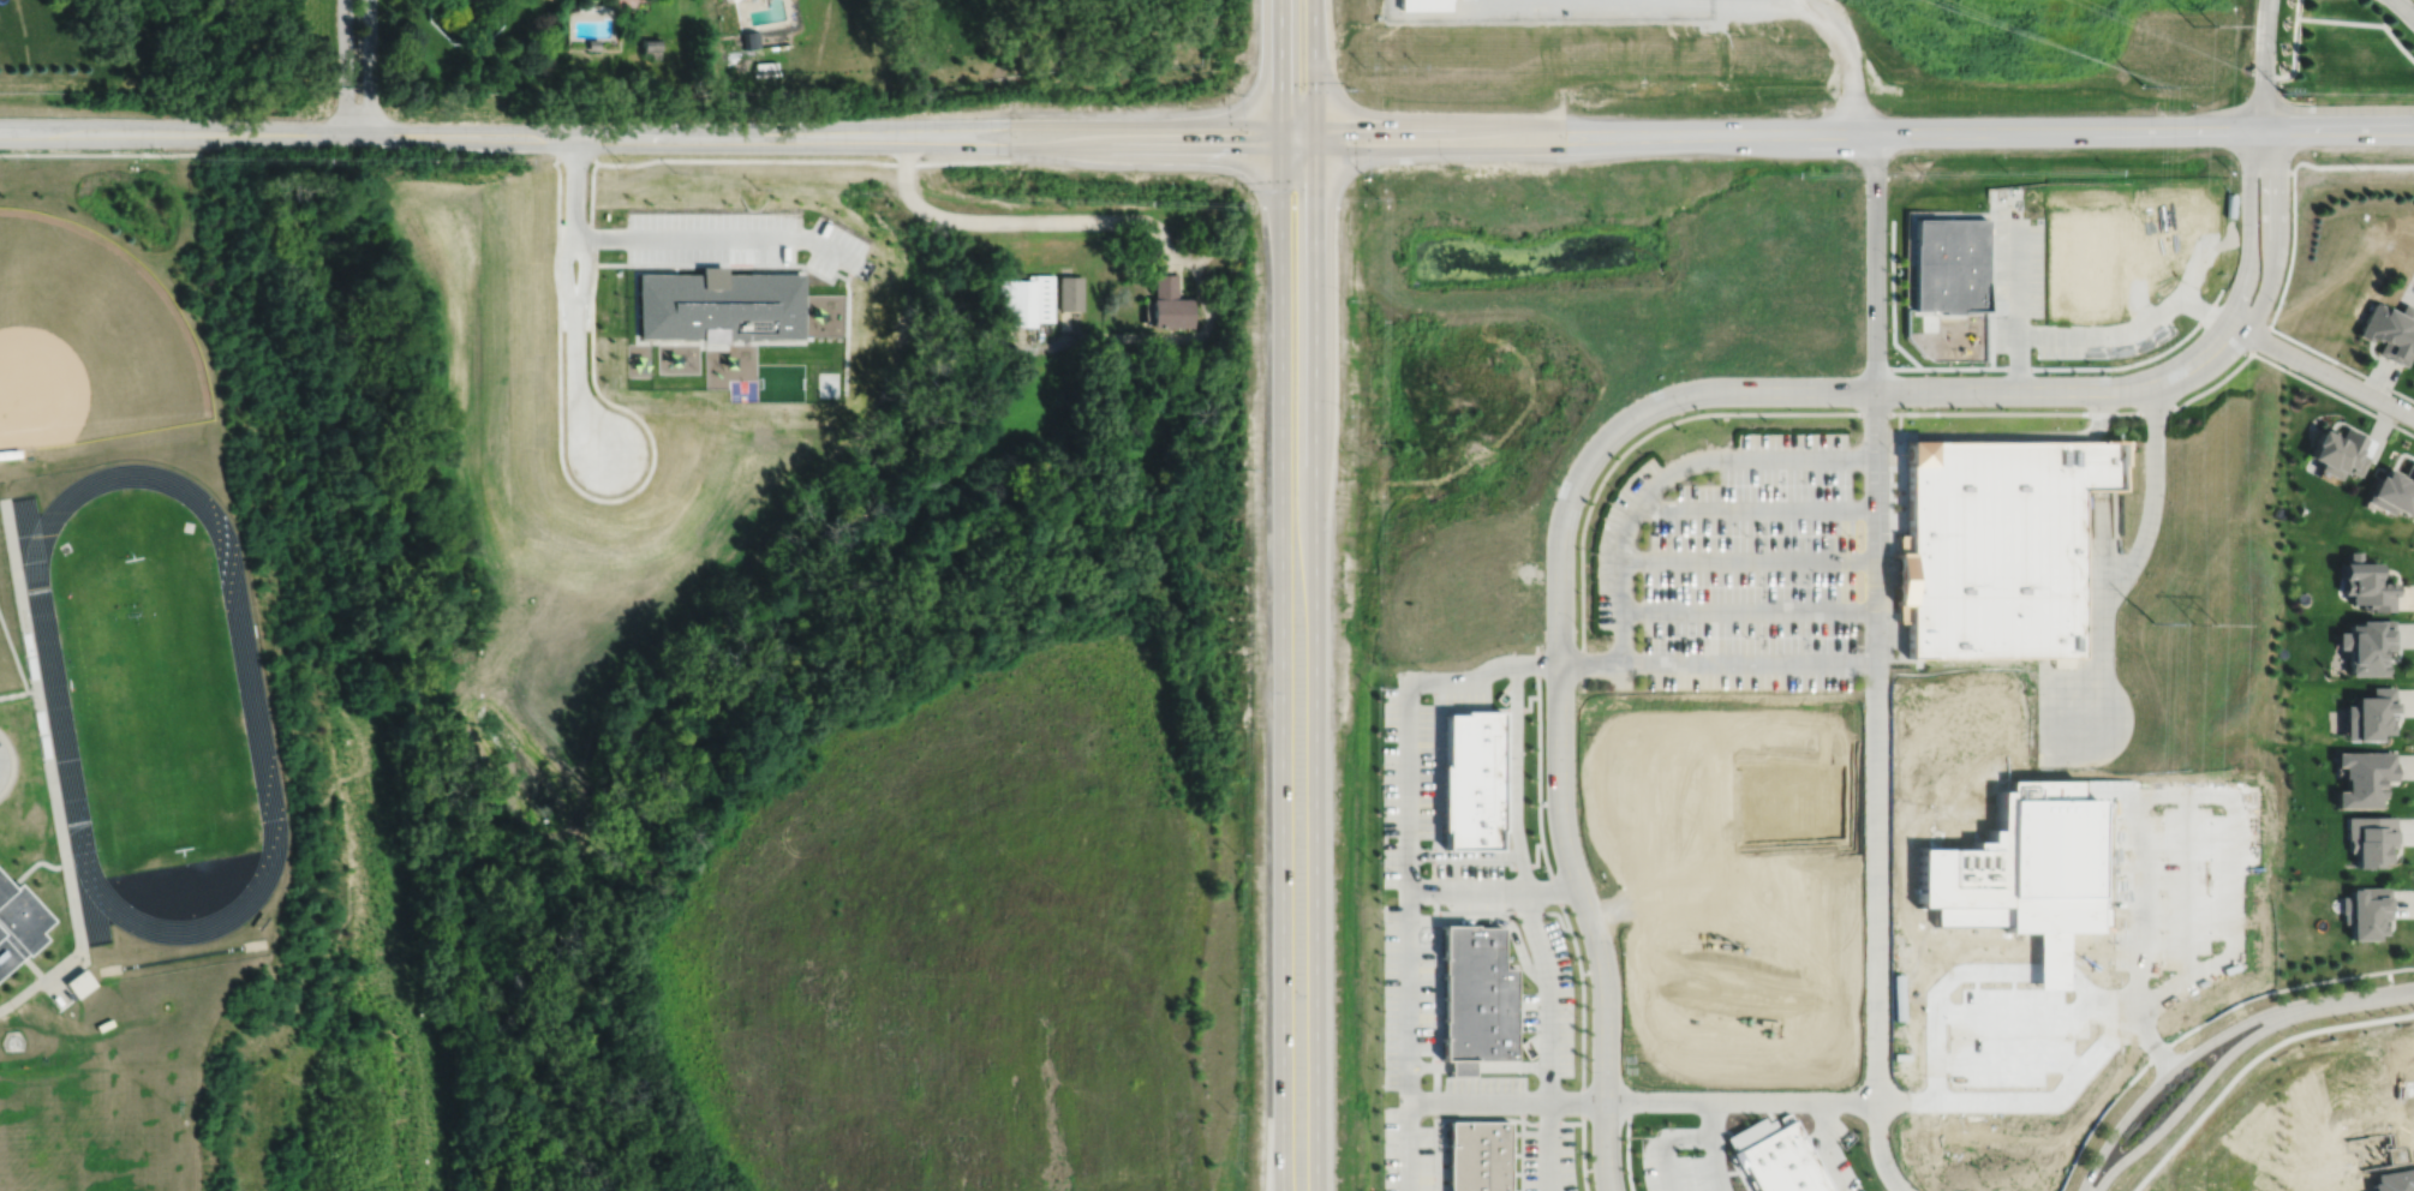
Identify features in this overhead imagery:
road: (1692, 2)
road: (1789, 2)
building: (1423, 6)
road: (2296, 8)
road: (2404, 8)
power substation: (1543, 11)
road: (2320, 18)
power tower: (2197, 24)
crop: (2014, 35)
building: (749, 38)
street lamp: (2251, 41)
street lamp: (2276, 42)
building: (592, 43)
building: (650, 48)
road: (1847, 54)
road: (2264, 65)
road: (345, 66)
road: (369, 66)
road: (1278, 74)
road: (1310, 74)
street lamp: (1350, 88)
power tower: (2145, 88)
traffic signals: (1278, 91)
power tower: (2281, 94)
street lamp: (1232, 95)
street lamp: (1131, 106)
road: (1091, 122)
traffic signals: (1344, 124)
road: (1517, 124)
road: (453, 132)
road: (2085, 133)
road: (1091, 149)
traffic signals: (1241, 149)
road: (1516, 149)
road: (101, 154)
street lamp: (1888, 173)
traffic signals: (1310, 184)
road: (1015, 221)
road: (2248, 228)
road: (719, 234)
parking lot: (745, 235)
road: (2273, 237)
road: (1179, 256)
road: (1202, 256)
street lamp: (1888, 256)
road: (1164, 264)
road: (1875, 264)
building: (1950, 265)
building: (1071, 293)
road: (2018, 293)
road: (573, 297)
building: (1027, 300)
building: (1169, 304)
building: (722, 306)
road: (2135, 331)
building: (2389, 331)
road: (1149, 336)
park: (86, 339)
street lamp: (1889, 347)
road: (2325, 354)
road: (2289, 370)
building: (2413, 370)
road: (2323, 371)
street lamp: (2117, 372)
road: (1918, 393)
street lamp: (2392, 393)
street lamp: (1986, 407)
street lamp: (1687, 411)
road: (1875, 414)
street lamp: (1949, 421)
street lamp: (1752, 426)
road: (2004, 436)
street lamp: (1854, 441)
building: (10, 451)
building: (2336, 453)
street lamp: (1663, 460)
road: (1668, 473)
street lamp: (1558, 481)
building: (2394, 492)
road: (2152, 504)
road: (1755, 511)
street lamp: (1657, 534)
street lamp: (1745, 534)
road: (31, 539)
road: (228, 546)
building: (1992, 547)
road: (1876, 549)
road: (2101, 550)
road: (1747, 559)
parking lot: (1738, 569)
building: (1894, 580)
building: (2364, 581)
road: (1747, 611)
power tower: (2203, 622)
power tower: (2151, 623)
street lamp: (1577, 624)
street lamp: (1651, 635)
street lamp: (1745, 635)
building: (2365, 644)
street lamp: (1507, 652)
road: (1747, 664)
road: (19, 665)
road: (1589, 665)
road: (2099, 666)
street lamp: (1421, 669)
road: (1278, 670)
road: (1311, 670)
park: (159, 704)
building: (2367, 713)
street lamp: (1381, 762)
road: (11, 764)
road: (1513, 776)
building: (2361, 777)
building: (1470, 780)
road: (1409, 789)
street lamp: (1543, 807)
road: (1560, 816)
building: (2368, 838)
street lamp: (1381, 843)
road: (1464, 852)
road: (94, 904)
street lamp: (1441, 904)
building: (2364, 910)
building: (20, 918)
street lamp: (1381, 920)
road: (1492, 920)
road: (1876, 930)
crop: (951, 942)
street lamp: (1617, 951)
building: (78, 982)
road: (1548, 992)
street lamp: (1381, 994)
road: (1409, 994)
street lamp: (2299, 997)
road: (2367, 997)
building: (1476, 999)
road: (2200, 1024)
road: (2102, 1042)
road: (2177, 1065)
road: (1478, 1066)
street lamp: (1381, 1067)
street lamp: (1589, 1071)
road: (2200, 1085)
road: (1460, 1100)
road: (1739, 1101)
park: (86, 1131)
road: (1666, 1139)
street lamp: (1382, 1143)
road: (1548, 1145)
road: (1821, 1145)
road: (1713, 1147)
street lamp: (1575, 1150)
street lamp: (1692, 1155)
building: (1476, 1156)
building: (1734, 1160)
building: (1780, 1162)
street lamp: (2085, 1168)

